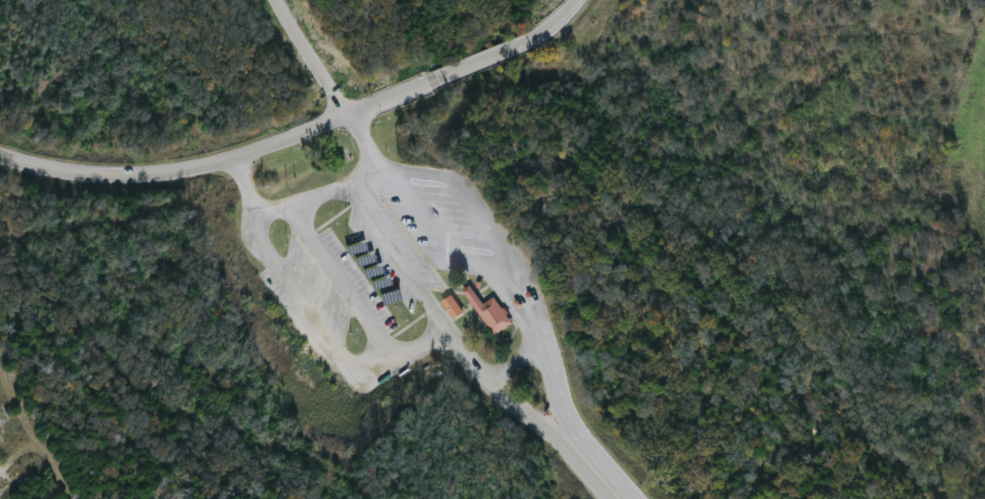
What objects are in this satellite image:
road: (311, 58)
road: (467, 65)
road: (364, 142)
road: (176, 169)
road: (296, 204)
parking lot: (432, 236)
park: (492, 249)
road: (401, 256)
road: (344, 282)
road: (501, 286)
parking lot: (333, 302)
building: (452, 306)
building: (490, 310)
road: (326, 332)
road: (502, 396)
road: (599, 469)

